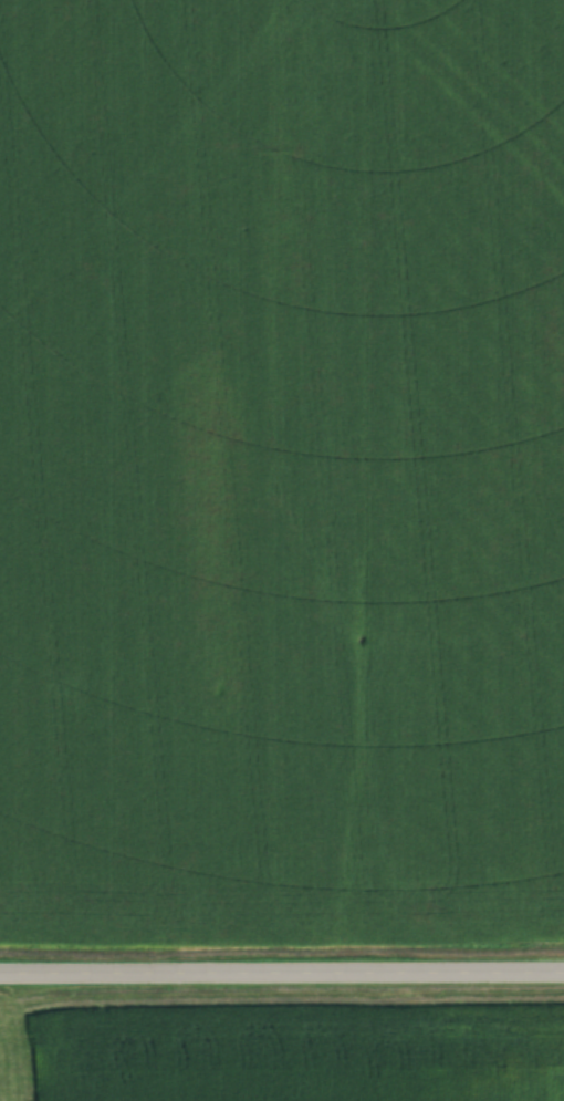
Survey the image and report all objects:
road: (281, 970)

